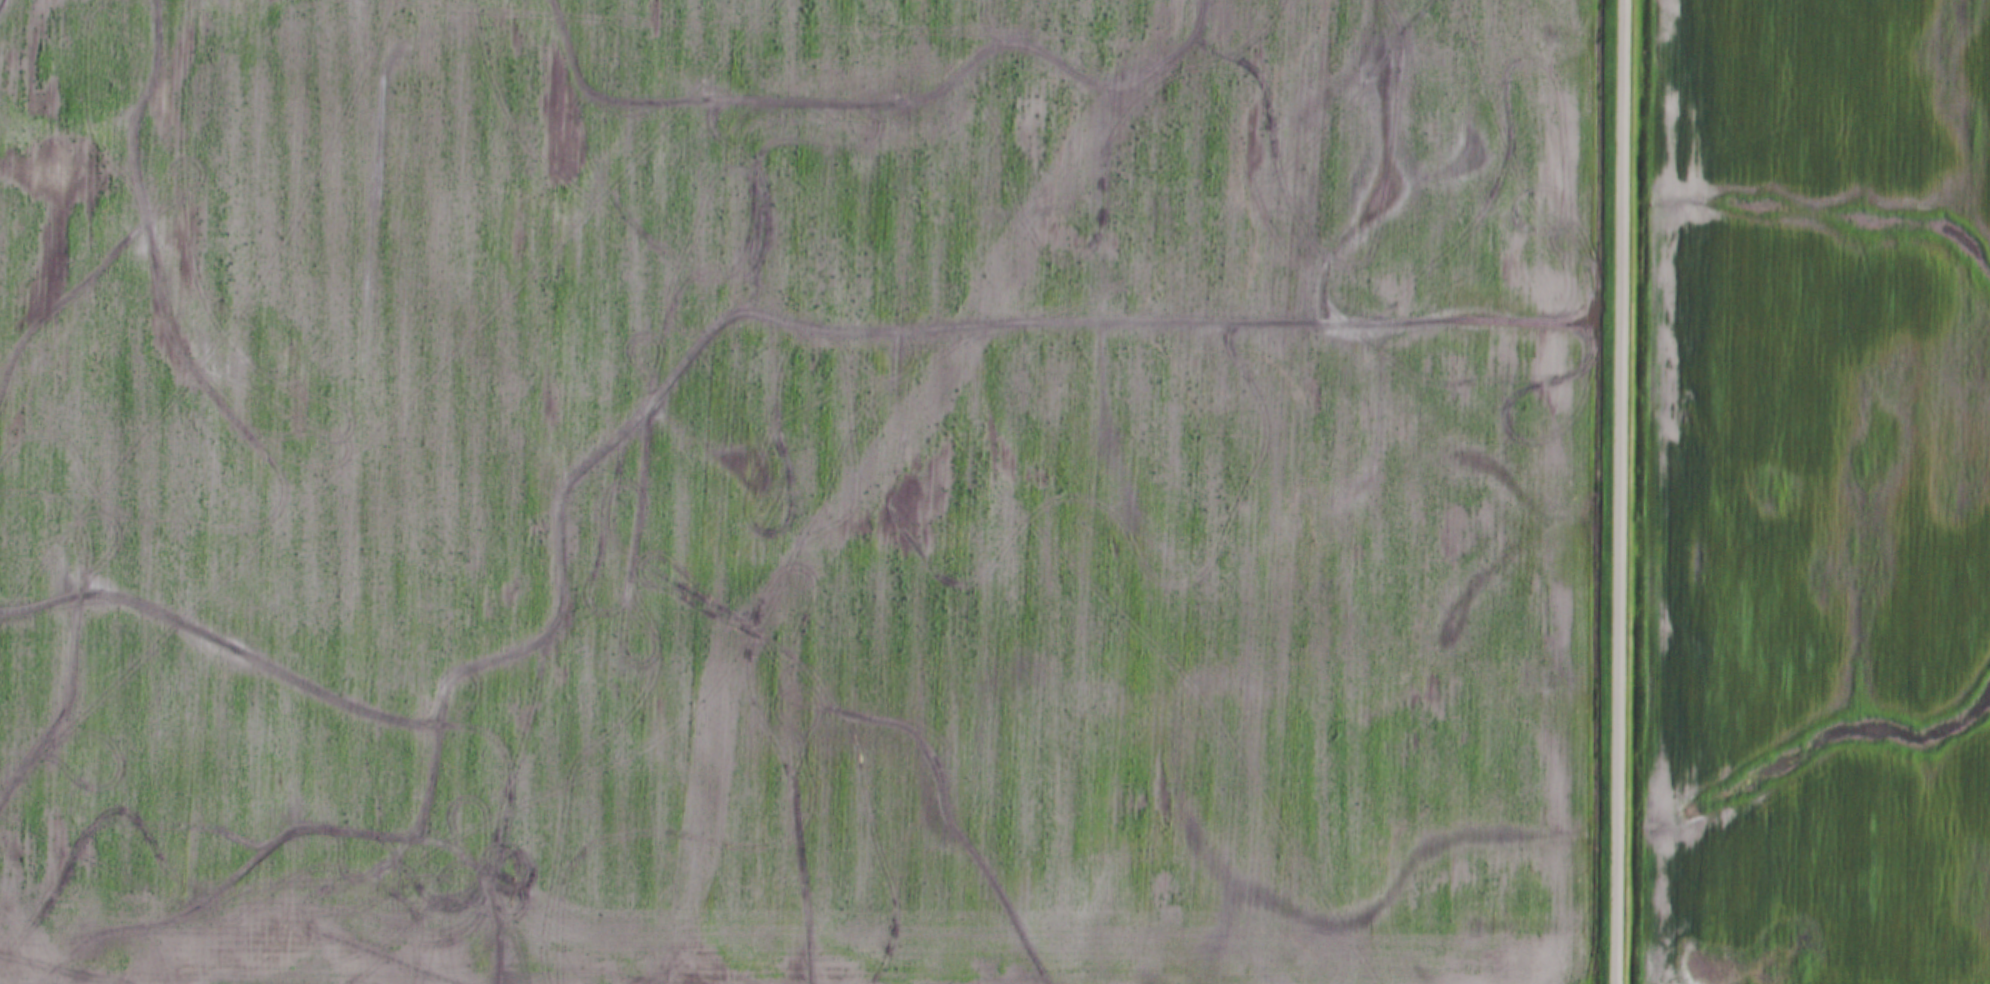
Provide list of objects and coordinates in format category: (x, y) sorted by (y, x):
road: (1624, 492)

